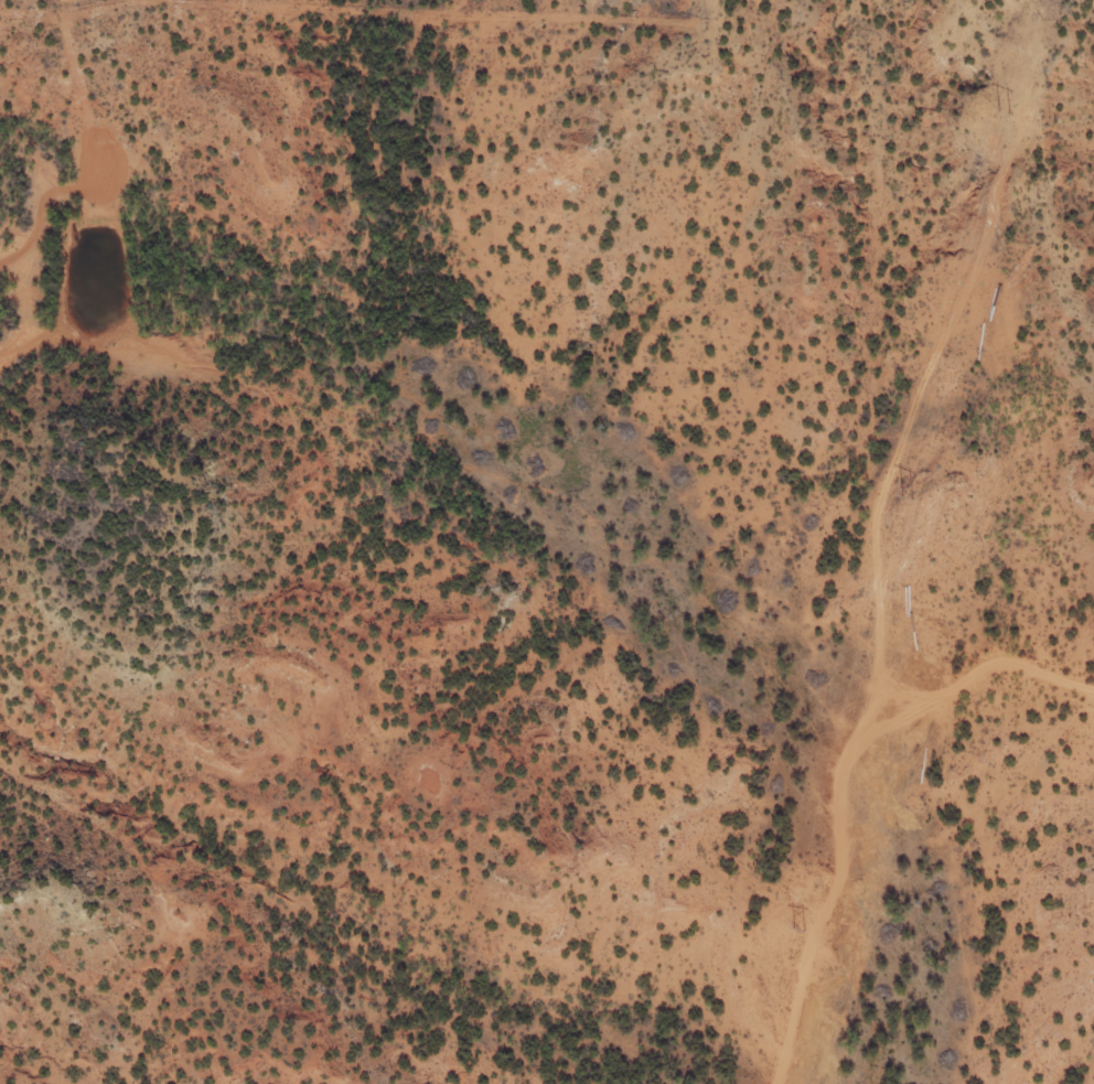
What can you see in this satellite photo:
power tower: (1005, 112)
power tower: (909, 496)
power tower: (800, 929)

